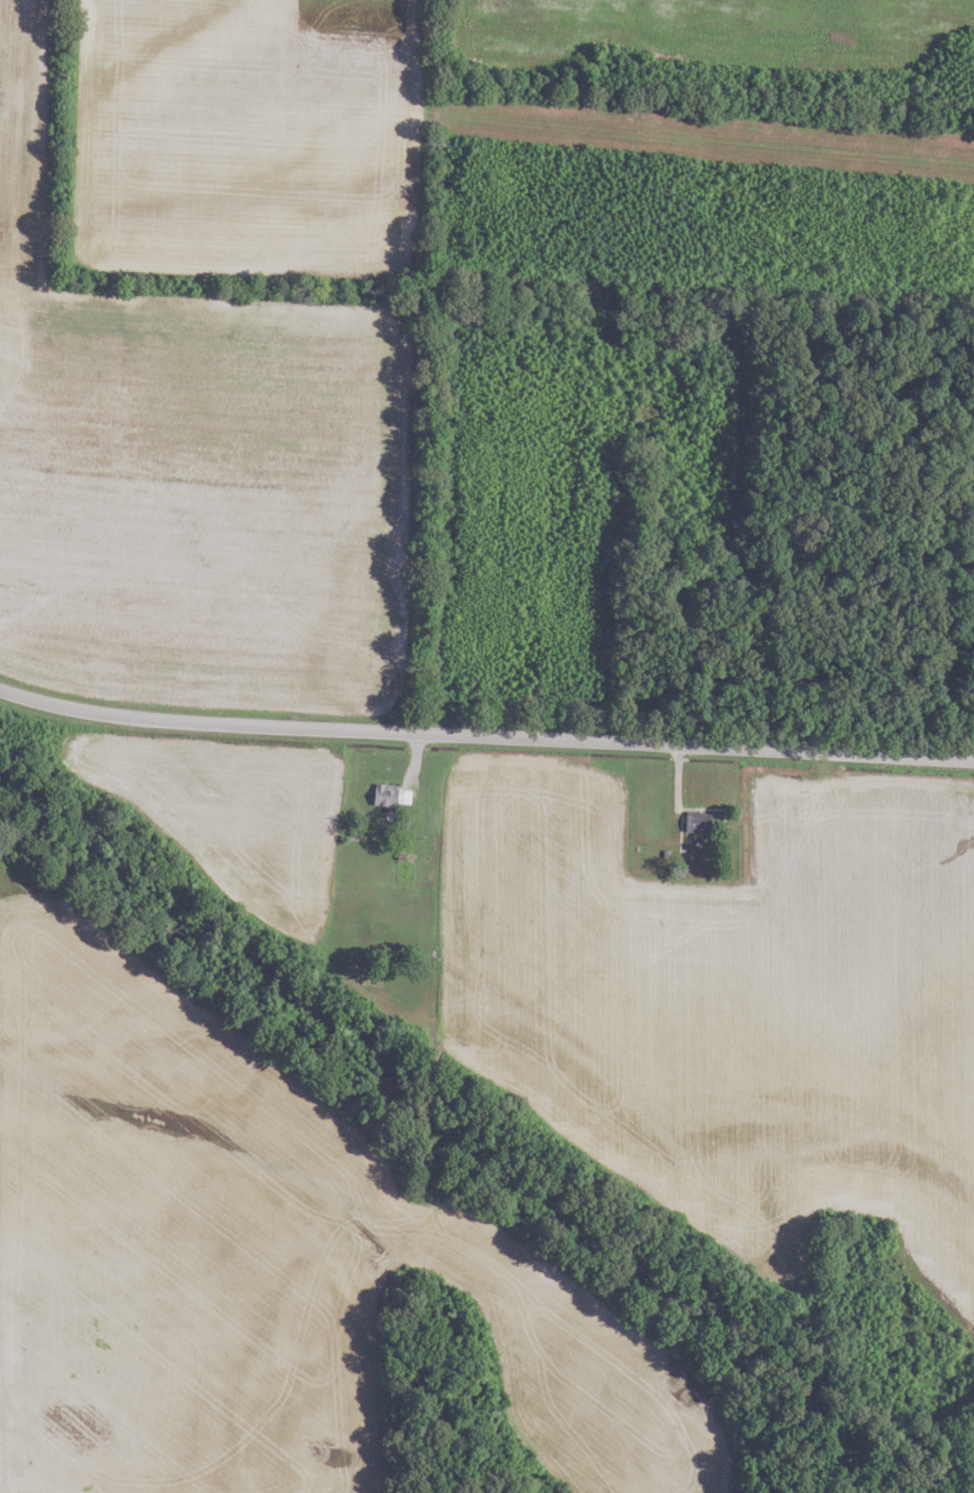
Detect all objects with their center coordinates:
road: (485, 738)
building: (390, 795)
building: (692, 821)

